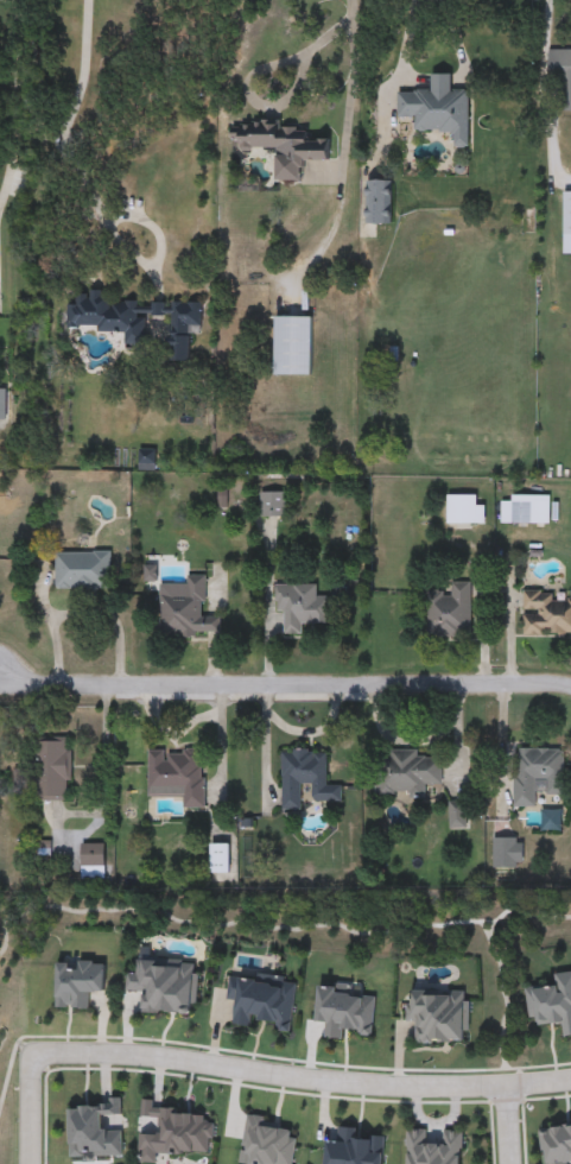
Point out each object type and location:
road: (540, 27)
building: (562, 74)
road: (436, 80)
road: (17, 102)
road: (279, 103)
building: (437, 108)
road: (65, 128)
building: (284, 146)
road: (342, 151)
building: (379, 201)
building: (567, 214)
building: (134, 318)
building: (293, 346)
building: (2, 404)
building: (272, 504)
building: (464, 510)
building: (525, 510)
building: (81, 570)
building: (299, 605)
building: (185, 609)
building: (449, 611)
building: (545, 613)
road: (284, 682)
building: (51, 768)
building: (407, 773)
building: (537, 773)
building: (177, 774)
building: (304, 779)
building: (457, 814)
building: (507, 853)
building: (220, 858)
building: (93, 861)
building: (78, 982)
building: (165, 985)
building: (265, 1001)
building: (552, 1002)
building: (343, 1010)
building: (439, 1016)
road: (303, 1076)
road: (32, 1111)
road: (503, 1126)
building: (93, 1131)
building: (178, 1133)
building: (266, 1141)
building: (556, 1144)
building: (433, 1147)
building: (353, 1149)

